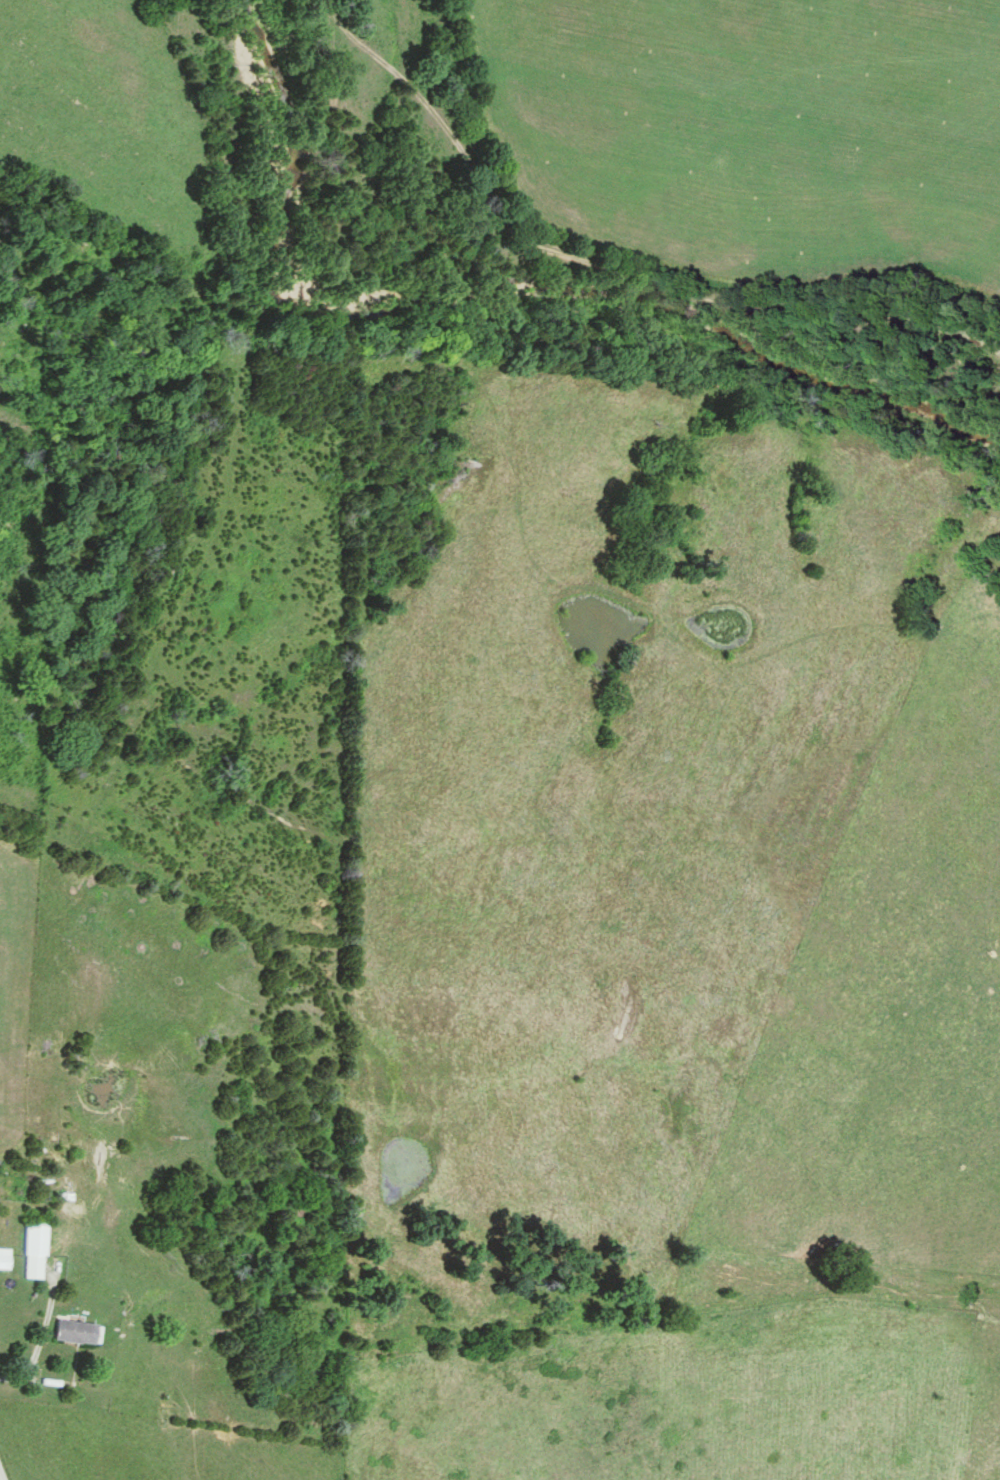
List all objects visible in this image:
road: (607, 265)
building: (34, 1251)
building: (4, 1259)
building: (78, 1333)
road: (38, 1338)
road: (1, 1474)

